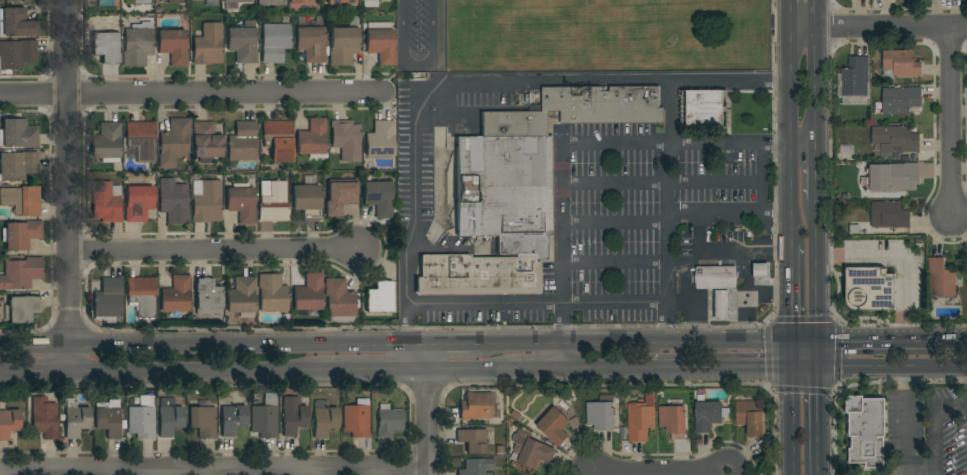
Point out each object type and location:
building: (14, 0)
building: (89, 0)
building: (141, 1)
building: (175, 1)
building: (235, 2)
building: (270, 2)
building: (300, 2)
building: (340, 2)
road: (790, 11)
building: (16, 23)
road: (878, 24)
building: (242, 42)
building: (274, 42)
building: (380, 42)
building: (311, 44)
building: (207, 45)
building: (105, 46)
building: (137, 46)
building: (173, 46)
building: (342, 46)
building: (17, 53)
building: (901, 63)
road: (415, 65)
road: (815, 73)
building: (855, 77)
road: (196, 95)
road: (431, 99)
building: (900, 99)
building: (705, 109)
building: (577, 110)
road: (952, 121)
road: (668, 129)
building: (18, 134)
road: (790, 134)
building: (141, 139)
building: (312, 139)
building: (380, 139)
building: (895, 139)
building: (278, 140)
building: (346, 140)
building: (174, 142)
building: (206, 142)
building: (243, 142)
building: (107, 143)
road: (614, 144)
road: (741, 145)
building: (906, 157)
building: (17, 165)
road: (814, 173)
building: (897, 176)
road: (615, 183)
road: (733, 183)
road: (68, 185)
building: (504, 186)
building: (339, 197)
building: (378, 198)
building: (22, 200)
building: (173, 201)
building: (307, 201)
building: (106, 202)
building: (207, 202)
building: (138, 203)
building: (274, 203)
building: (241, 204)
road: (776, 210)
road: (729, 211)
building: (889, 214)
road: (615, 223)
road: (563, 224)
building: (854, 229)
building: (21, 235)
building: (523, 244)
road: (217, 250)
road: (722, 253)
road: (897, 260)
road: (615, 261)
road: (685, 263)
building: (761, 270)
gas station: (726, 272)
building: (21, 273)
building: (480, 274)
building: (715, 278)
building: (941, 279)
road: (814, 283)
building: (870, 289)
road: (789, 291)
road: (767, 292)
building: (271, 293)
building: (308, 293)
building: (142, 295)
building: (176, 295)
building: (241, 296)
road: (745, 296)
building: (208, 297)
building: (379, 297)
building: (108, 300)
building: (339, 300)
road: (690, 301)
road: (680, 303)
road: (657, 304)
building: (722, 305)
building: (20, 309)
road: (669, 322)
road: (407, 323)
traffic signals: (789, 338)
road: (801, 338)
traffic signals: (814, 338)
road: (881, 338)
road: (958, 339)
road: (629, 341)
road: (448, 342)
road: (213, 343)
road: (564, 355)
road: (428, 357)
traffic signals: (789, 365)
road: (731, 366)
traffic signals: (815, 366)
road: (891, 366)
road: (605, 368)
road: (540, 369)
road: (36, 370)
road: (198, 370)
road: (376, 370)
road: (472, 370)
road: (905, 381)
road: (951, 405)
building: (477, 406)
road: (789, 406)
building: (601, 414)
building: (293, 416)
building: (707, 416)
building: (169, 417)
building: (750, 417)
building: (44, 418)
building: (108, 418)
building: (324, 418)
building: (142, 419)
building: (232, 419)
building: (265, 419)
building: (356, 419)
building: (641, 419)
building: (673, 419)
road: (816, 420)
building: (76, 421)
building: (203, 421)
building: (388, 421)
building: (9, 423)
road: (428, 423)
building: (554, 426)
building: (866, 431)
parking lot: (928, 431)
road: (906, 436)
building: (475, 440)
road: (936, 440)
building: (530, 451)
building: (476, 467)
road: (214, 471)
road: (661, 472)
road: (592, 474)

